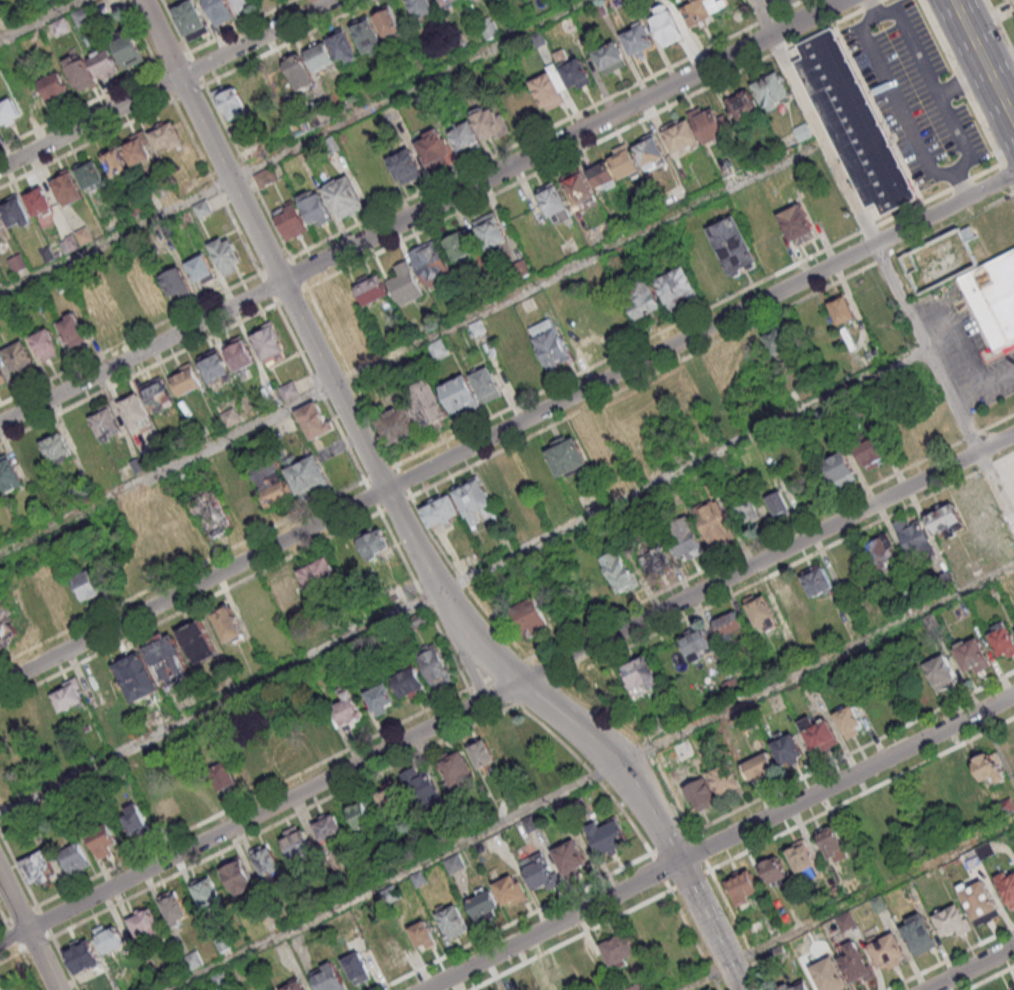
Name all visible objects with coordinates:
building: (446, 2)
parking lot: (1012, 2)
building: (242, 4)
building: (421, 7)
building: (219, 10)
building: (701, 11)
road: (991, 15)
building: (82, 16)
road: (40, 20)
building: (190, 20)
building: (389, 23)
building: (60, 26)
road: (176, 26)
road: (242, 26)
road: (1000, 26)
building: (666, 27)
building: (367, 33)
road: (141, 35)
building: (637, 39)
road: (291, 43)
building: (343, 46)
building: (128, 50)
building: (320, 56)
building: (610, 57)
road: (984, 59)
road: (174, 61)
building: (103, 62)
road: (197, 69)
building: (79, 71)
building: (299, 71)
building: (577, 75)
road: (962, 82)
building: (275, 83)
building: (53, 84)
road: (168, 85)
road: (167, 86)
building: (548, 90)
building: (772, 90)
road: (190, 93)
building: (231, 102)
building: (521, 104)
building: (741, 105)
building: (8, 112)
building: (853, 121)
building: (479, 128)
road: (548, 129)
building: (696, 129)
building: (166, 137)
road: (596, 144)
road: (87, 145)
building: (433, 147)
road: (294, 148)
building: (137, 149)
building: (649, 150)
building: (115, 161)
building: (405, 165)
building: (615, 167)
road: (249, 172)
building: (90, 175)
road: (1008, 175)
building: (266, 176)
building: (67, 187)
road: (217, 187)
building: (579, 188)
building: (343, 196)
building: (39, 202)
building: (554, 203)
building: (315, 207)
building: (202, 208)
road: (421, 212)
building: (15, 213)
building: (291, 220)
building: (797, 225)
building: (1, 228)
building: (76, 239)
building: (733, 245)
building: (458, 246)
building: (226, 253)
building: (430, 261)
building: (17, 262)
road: (884, 262)
road: (276, 266)
building: (200, 269)
road: (299, 273)
building: (175, 281)
building: (405, 284)
building: (677, 287)
building: (372, 288)
road: (268, 289)
road: (293, 296)
building: (642, 297)
building: (993, 299)
building: (871, 302)
building: (842, 309)
road: (699, 314)
building: (72, 329)
road: (953, 335)
road: (130, 339)
building: (550, 342)
building: (45, 343)
building: (269, 343)
building: (775, 343)
road: (712, 345)
road: (410, 346)
parking lot: (965, 348)
building: (438, 349)
road: (318, 350)
building: (240, 353)
building: (18, 357)
building: (214, 365)
road: (139, 374)
building: (1, 376)
road: (352, 377)
road: (998, 377)
building: (186, 378)
building: (486, 383)
building: (705, 388)
building: (289, 390)
road: (322, 392)
building: (158, 393)
building: (460, 394)
road: (967, 394)
building: (426, 403)
building: (134, 411)
building: (230, 416)
building: (315, 419)
building: (104, 421)
building: (397, 424)
road: (507, 429)
building: (56, 445)
building: (871, 453)
building: (566, 455)
building: (30, 459)
building: (840, 469)
road: (381, 473)
building: (9, 474)
building: (289, 479)
road: (403, 481)
building: (505, 487)
road: (373, 496)
building: (241, 499)
road: (404, 501)
building: (474, 501)
building: (778, 503)
building: (439, 509)
building: (747, 511)
building: (209, 513)
building: (945, 518)
building: (715, 523)
building: (913, 534)
road: (772, 537)
building: (685, 538)
building: (374, 543)
building: (157, 546)
building: (881, 549)
road: (402, 555)
building: (654, 559)
road: (787, 567)
building: (619, 571)
building: (318, 572)
road: (183, 573)
road: (462, 580)
building: (817, 580)
road: (463, 583)
building: (87, 585)
building: (791, 598)
road: (190, 607)
building: (761, 611)
building: (531, 620)
building: (228, 624)
building: (730, 625)
building: (1001, 639)
building: (198, 642)
building: (697, 643)
road: (446, 644)
building: (972, 655)
road: (467, 657)
building: (434, 665)
building: (151, 666)
road: (545, 670)
building: (941, 671)
building: (641, 673)
building: (409, 683)
road: (507, 689)
road: (540, 693)
building: (68, 695)
building: (381, 698)
road: (479, 704)
building: (348, 706)
building: (848, 720)
building: (320, 729)
building: (819, 733)
building: (511, 740)
building: (1010, 744)
building: (787, 747)
road: (854, 753)
building: (482, 754)
building: (255, 761)
building: (759, 765)
building: (989, 765)
building: (456, 769)
road: (591, 773)
building: (224, 775)
road: (592, 779)
building: (725, 780)
building: (423, 788)
building: (962, 788)
building: (194, 789)
building: (700, 792)
road: (253, 798)
building: (392, 800)
building: (581, 806)
building: (1006, 806)
building: (562, 807)
building: (167, 809)
building: (893, 810)
building: (360, 813)
road: (656, 817)
building: (134, 818)
building: (530, 823)
road: (802, 824)
building: (328, 827)
building: (609, 836)
building: (104, 841)
building: (297, 841)
road: (719, 842)
road: (673, 844)
building: (832, 844)
road: (232, 846)
building: (984, 850)
road: (702, 852)
building: (74, 857)
building: (570, 858)
building: (802, 858)
building: (267, 862)
building: (453, 863)
building: (38, 868)
building: (538, 871)
building: (776, 871)
road: (661, 872)
building: (237, 876)
building: (418, 878)
road: (690, 880)
building: (742, 884)
building: (1007, 886)
building: (511, 890)
building: (207, 892)
building: (392, 894)
building: (979, 901)
building: (878, 902)
building: (482, 903)
road: (846, 903)
building: (174, 907)
road: (620, 914)
building: (451, 920)
building: (846, 921)
building: (951, 921)
road: (516, 922)
building: (144, 924)
building: (659, 931)
road: (26, 933)
building: (918, 933)
building: (422, 934)
building: (110, 939)
building: (618, 949)
building: (887, 950)
building: (82, 956)
road: (950, 958)
building: (193, 960)
building: (854, 963)
building: (585, 964)
building: (356, 966)
road: (971, 968)
building: (828, 973)
building: (329, 977)
building: (551, 978)
road: (991, 978)
building: (221, 980)
building: (295, 984)
building: (525, 986)
building: (786, 987)
building: (802, 987)
building: (1013, 987)

